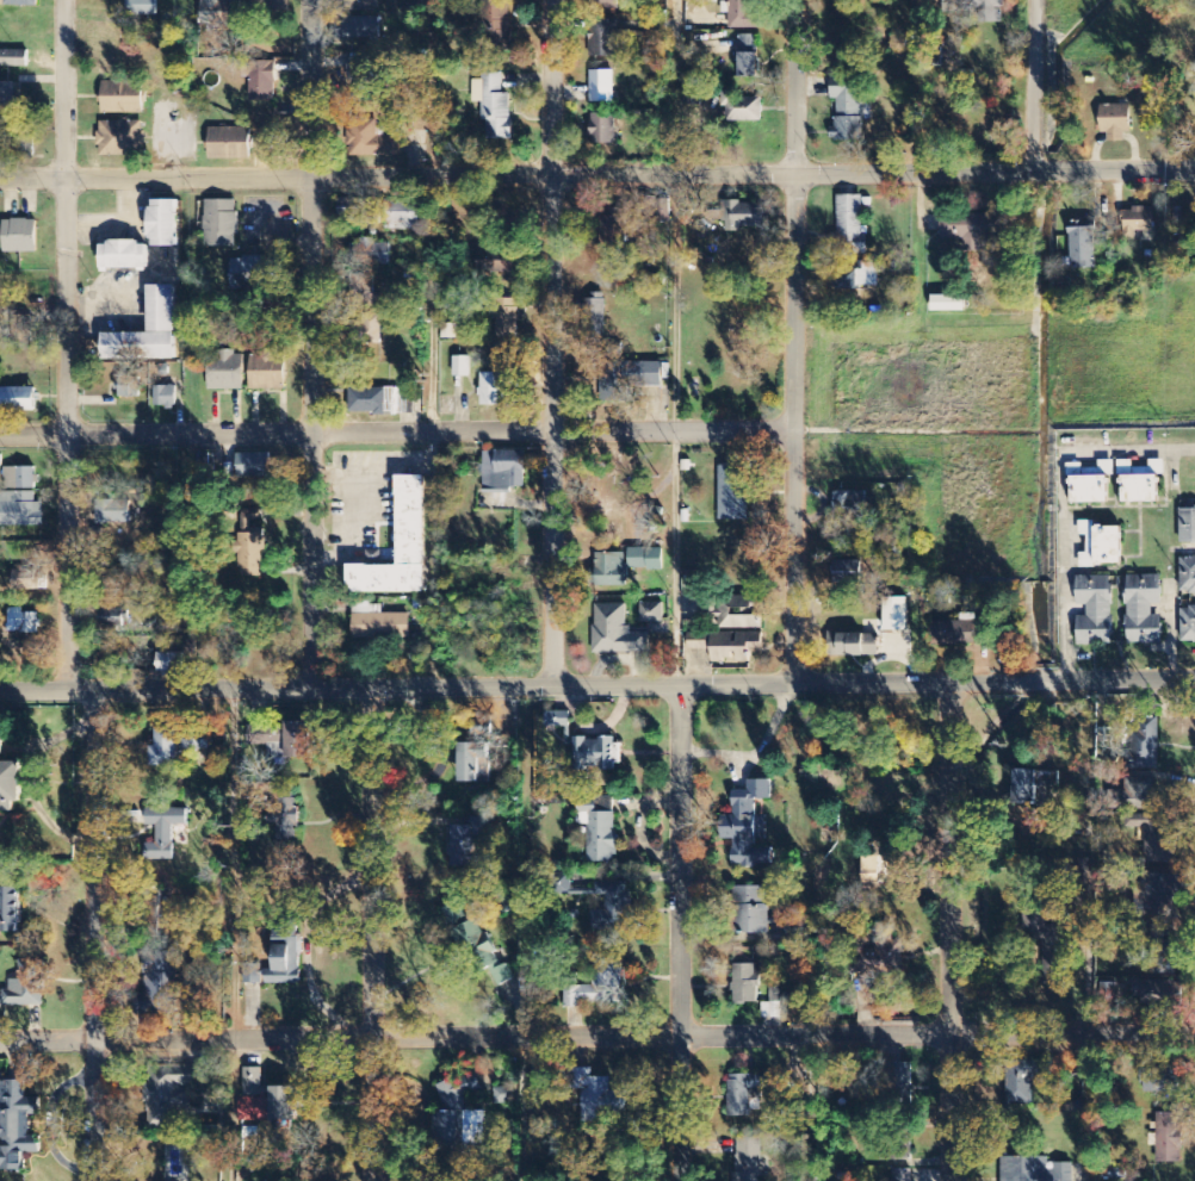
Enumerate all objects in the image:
building: (20, 4)
building: (364, 6)
building: (608, 6)
building: (142, 7)
building: (272, 7)
building: (977, 8)
building: (219, 12)
building: (744, 15)
building: (495, 26)
building: (361, 29)
building: (603, 38)
building: (748, 57)
building: (13, 58)
building: (363, 75)
building: (262, 81)
road: (1033, 85)
building: (601, 87)
building: (7, 95)
building: (122, 98)
building: (494, 106)
building: (741, 108)
building: (849, 113)
building: (1115, 123)
building: (602, 130)
building: (120, 138)
building: (372, 141)
building: (229, 144)
road: (597, 173)
building: (353, 209)
building: (402, 216)
road: (431, 217)
building: (743, 217)
building: (1138, 222)
building: (162, 223)
building: (219, 223)
building: (850, 228)
building: (973, 228)
building: (614, 234)
building: (19, 236)
building: (1083, 245)
building: (373, 251)
building: (123, 255)
building: (247, 273)
building: (857, 276)
building: (947, 305)
building: (161, 309)
building: (593, 317)
building: (507, 318)
building: (366, 329)
building: (23, 330)
road: (68, 342)
road: (312, 342)
road: (555, 342)
road: (791, 342)
building: (462, 367)
building: (267, 371)
building: (225, 372)
building: (630, 379)
building: (128, 387)
building: (493, 390)
building: (165, 397)
building: (18, 399)
road: (395, 434)
building: (0, 461)
building: (253, 466)
building: (503, 471)
building: (20, 478)
building: (733, 489)
building: (1090, 489)
building: (1140, 489)
building: (849, 503)
building: (20, 510)
building: (1187, 526)
building: (1101, 546)
building: (398, 548)
building: (253, 551)
building: (645, 559)
building: (611, 570)
building: (847, 572)
building: (1188, 576)
building: (1144, 610)
building: (1095, 611)
building: (652, 613)
building: (741, 614)
building: (894, 615)
building: (112, 617)
building: (21, 622)
building: (378, 623)
building: (1188, 624)
building: (617, 632)
building: (852, 646)
building: (733, 647)
building: (169, 664)
road: (597, 685)
building: (558, 720)
building: (481, 732)
building: (258, 736)
building: (194, 740)
building: (298, 740)
building: (1145, 744)
building: (1, 746)
building: (165, 747)
building: (596, 754)
building: (472, 764)
building: (10, 787)
building: (1023, 788)
building: (1141, 795)
building: (284, 815)
building: (748, 826)
building: (601, 831)
building: (163, 833)
building: (1151, 839)
building: (468, 843)
building: (1162, 895)
building: (504, 903)
building: (612, 908)
building: (10, 910)
building: (753, 910)
road: (95, 932)
road: (951, 932)
road: (377, 933)
road: (680, 933)
building: (481, 950)
building: (1165, 955)
building: (878, 957)
building: (279, 965)
building: (745, 984)
building: (26, 986)
building: (159, 986)
building: (599, 987)
building: (1157, 995)
road: (597, 1037)
building: (1162, 1079)
building: (1028, 1081)
building: (253, 1082)
building: (900, 1082)
building: (458, 1087)
building: (172, 1092)
building: (747, 1093)
building: (599, 1099)
building: (285, 1104)
building: (253, 1109)
building: (16, 1125)
building: (475, 1126)
building: (446, 1129)
building: (1169, 1138)
building: (748, 1161)
building: (1034, 1170)

